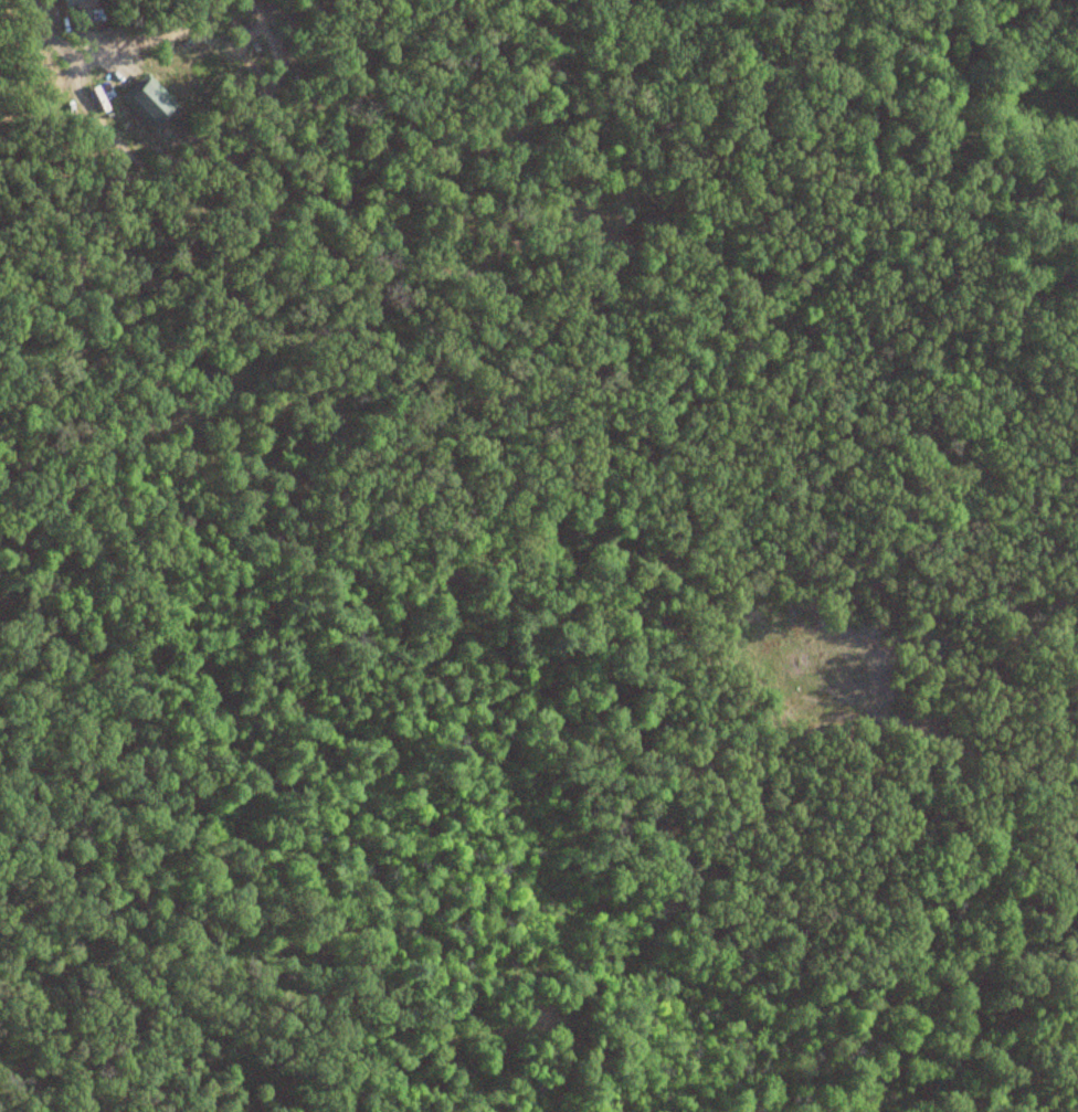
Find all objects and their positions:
building: (67, 2)
road: (66, 50)
building: (149, 103)

